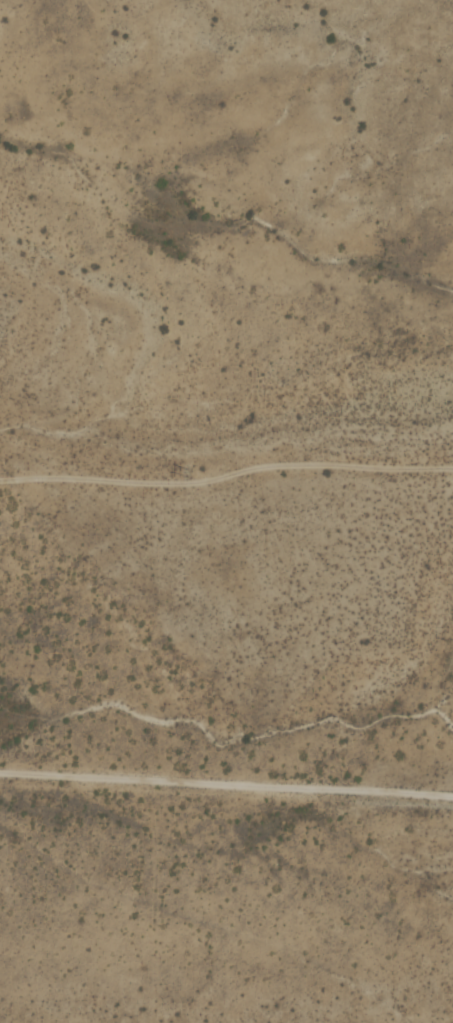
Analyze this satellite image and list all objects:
road: (226, 783)

